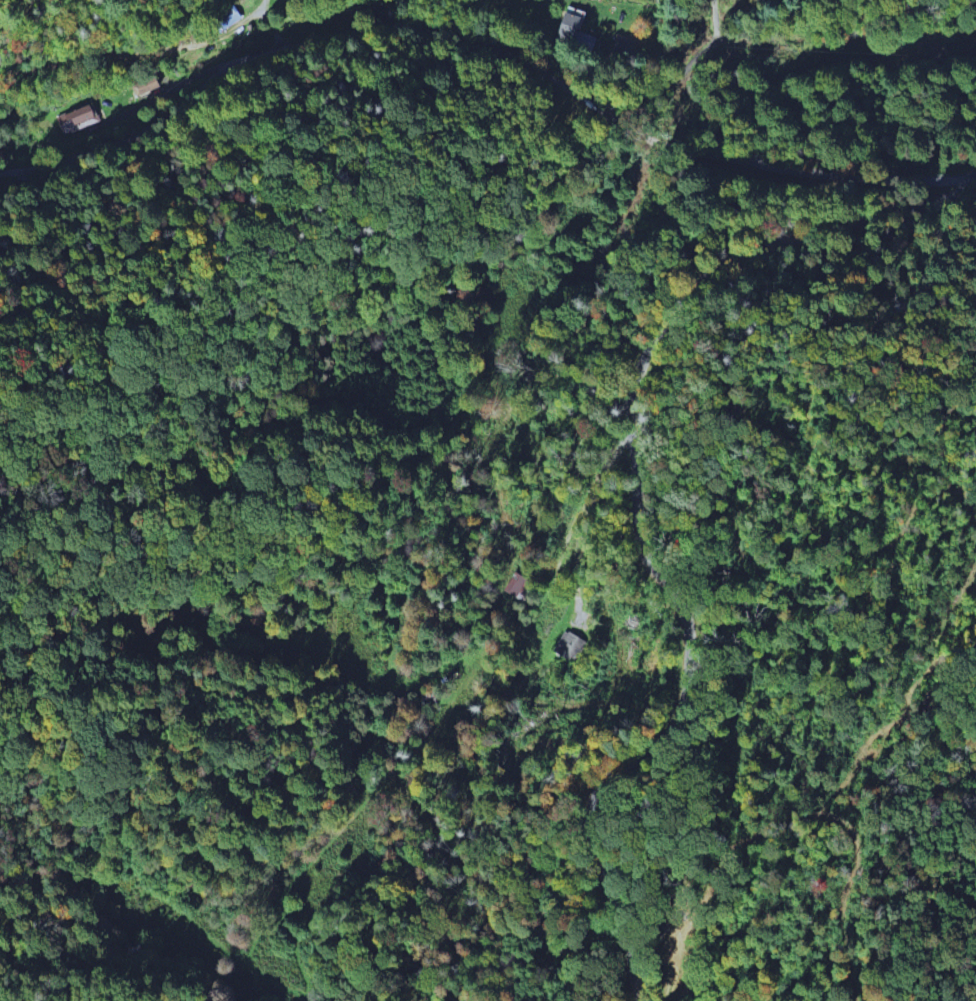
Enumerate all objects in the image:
river: (327, 9)
road: (713, 19)
building: (227, 23)
road: (481, 44)
river: (795, 46)
road: (704, 49)
river: (667, 86)
road: (634, 511)

